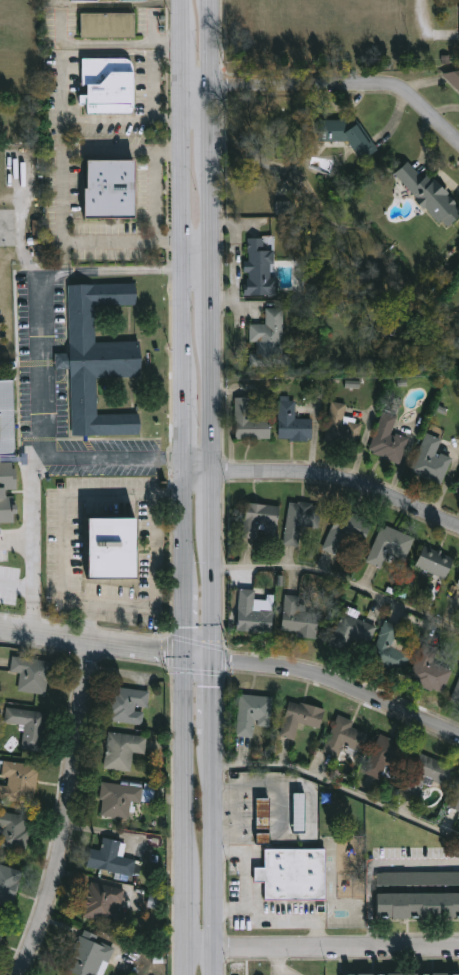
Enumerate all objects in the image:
building: (79, 0)
building: (106, 22)
road: (214, 42)
building: (454, 80)
building: (107, 81)
road: (200, 84)
road: (61, 88)
road: (346, 88)
road: (215, 119)
building: (352, 136)
building: (109, 187)
building: (431, 196)
road: (63, 197)
road: (156, 197)
road: (215, 211)
building: (261, 268)
road: (215, 297)
building: (269, 339)
building: (96, 357)
road: (41, 364)
road: (215, 399)
building: (5, 417)
building: (251, 421)
building: (294, 422)
building: (342, 428)
building: (389, 438)
building: (431, 459)
road: (200, 473)
road: (341, 482)
road: (163, 486)
road: (186, 487)
building: (457, 487)
building: (2, 492)
road: (141, 499)
road: (215, 501)
building: (302, 519)
building: (260, 520)
building: (346, 530)
road: (34, 539)
road: (17, 544)
building: (390, 544)
building: (111, 546)
building: (436, 560)
road: (341, 578)
building: (458, 583)
road: (17, 585)
road: (215, 594)
building: (255, 611)
building: (300, 617)
building: (353, 629)
road: (108, 644)
building: (394, 646)
traffic signals: (186, 656)
traffic signals: (216, 660)
building: (431, 667)
building: (32, 674)
road: (341, 691)
building: (457, 694)
road: (216, 701)
building: (129, 705)
building: (254, 712)
building: (302, 717)
building: (28, 726)
building: (347, 736)
building: (123, 750)
building: (388, 758)
building: (434, 772)
building: (18, 782)
road: (340, 786)
building: (119, 799)
building: (456, 799)
road: (68, 811)
building: (300, 811)
building: (263, 818)
building: (14, 830)
building: (110, 857)
road: (217, 859)
road: (373, 867)
building: (293, 873)
road: (247, 880)
building: (8, 884)
building: (418, 893)
building: (155, 900)
building: (103, 901)
road: (296, 918)
building: (2, 927)
road: (323, 951)
building: (87, 955)
road: (280, 962)
building: (404, 973)

